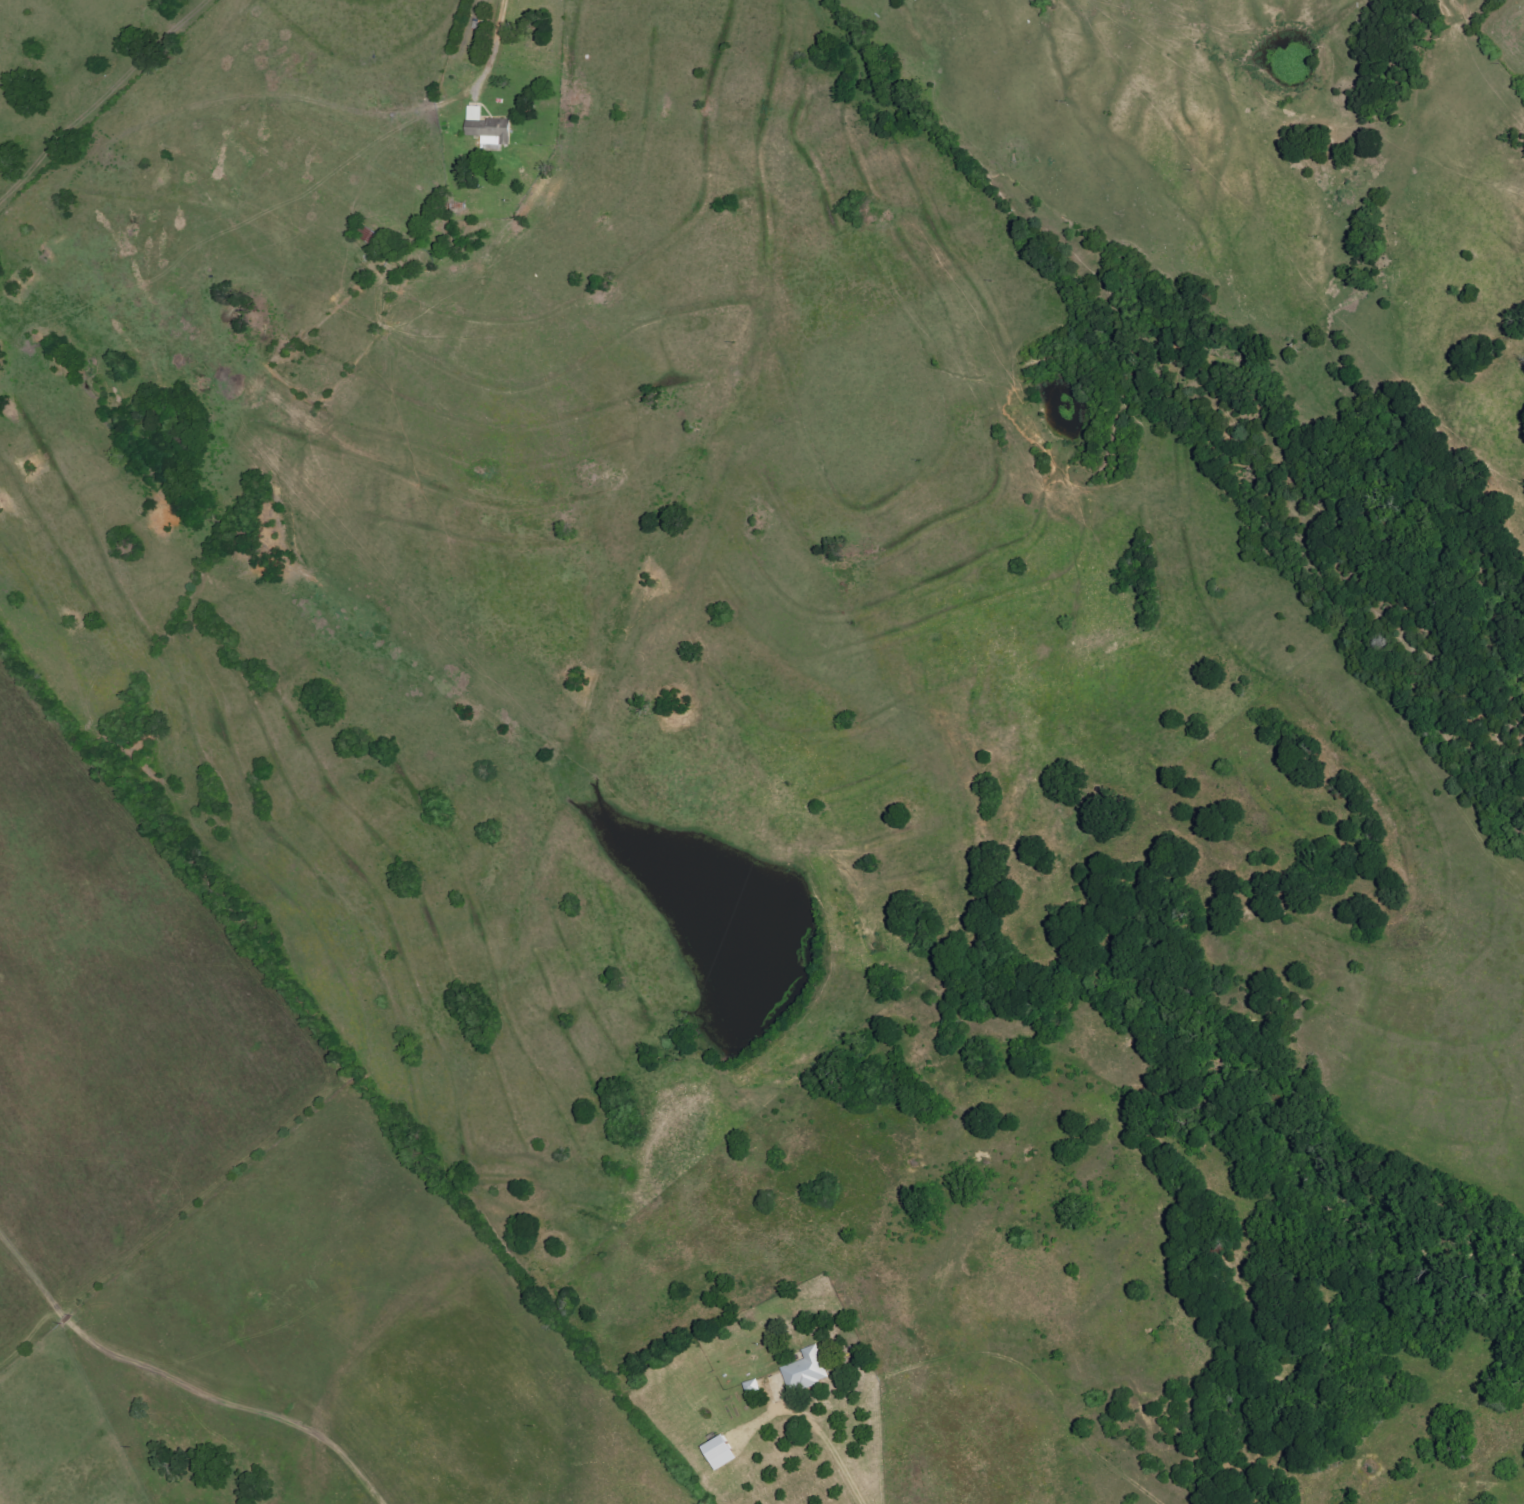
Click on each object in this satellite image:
road: (508, 2)
building: (488, 128)
building: (805, 1371)
building: (750, 1387)
road: (836, 1447)
building: (716, 1453)

